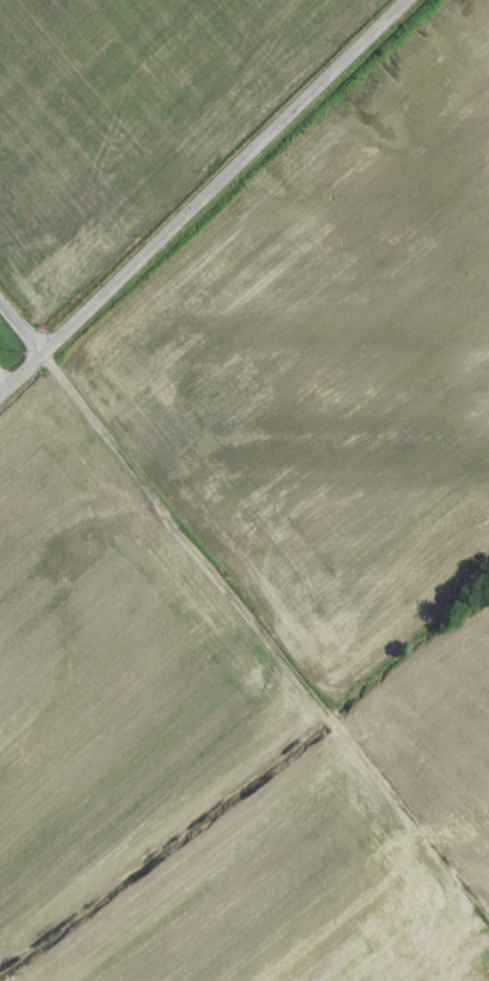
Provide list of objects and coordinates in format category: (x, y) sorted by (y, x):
road: (223, 177)
road: (21, 329)
road: (21, 374)
road: (265, 651)

